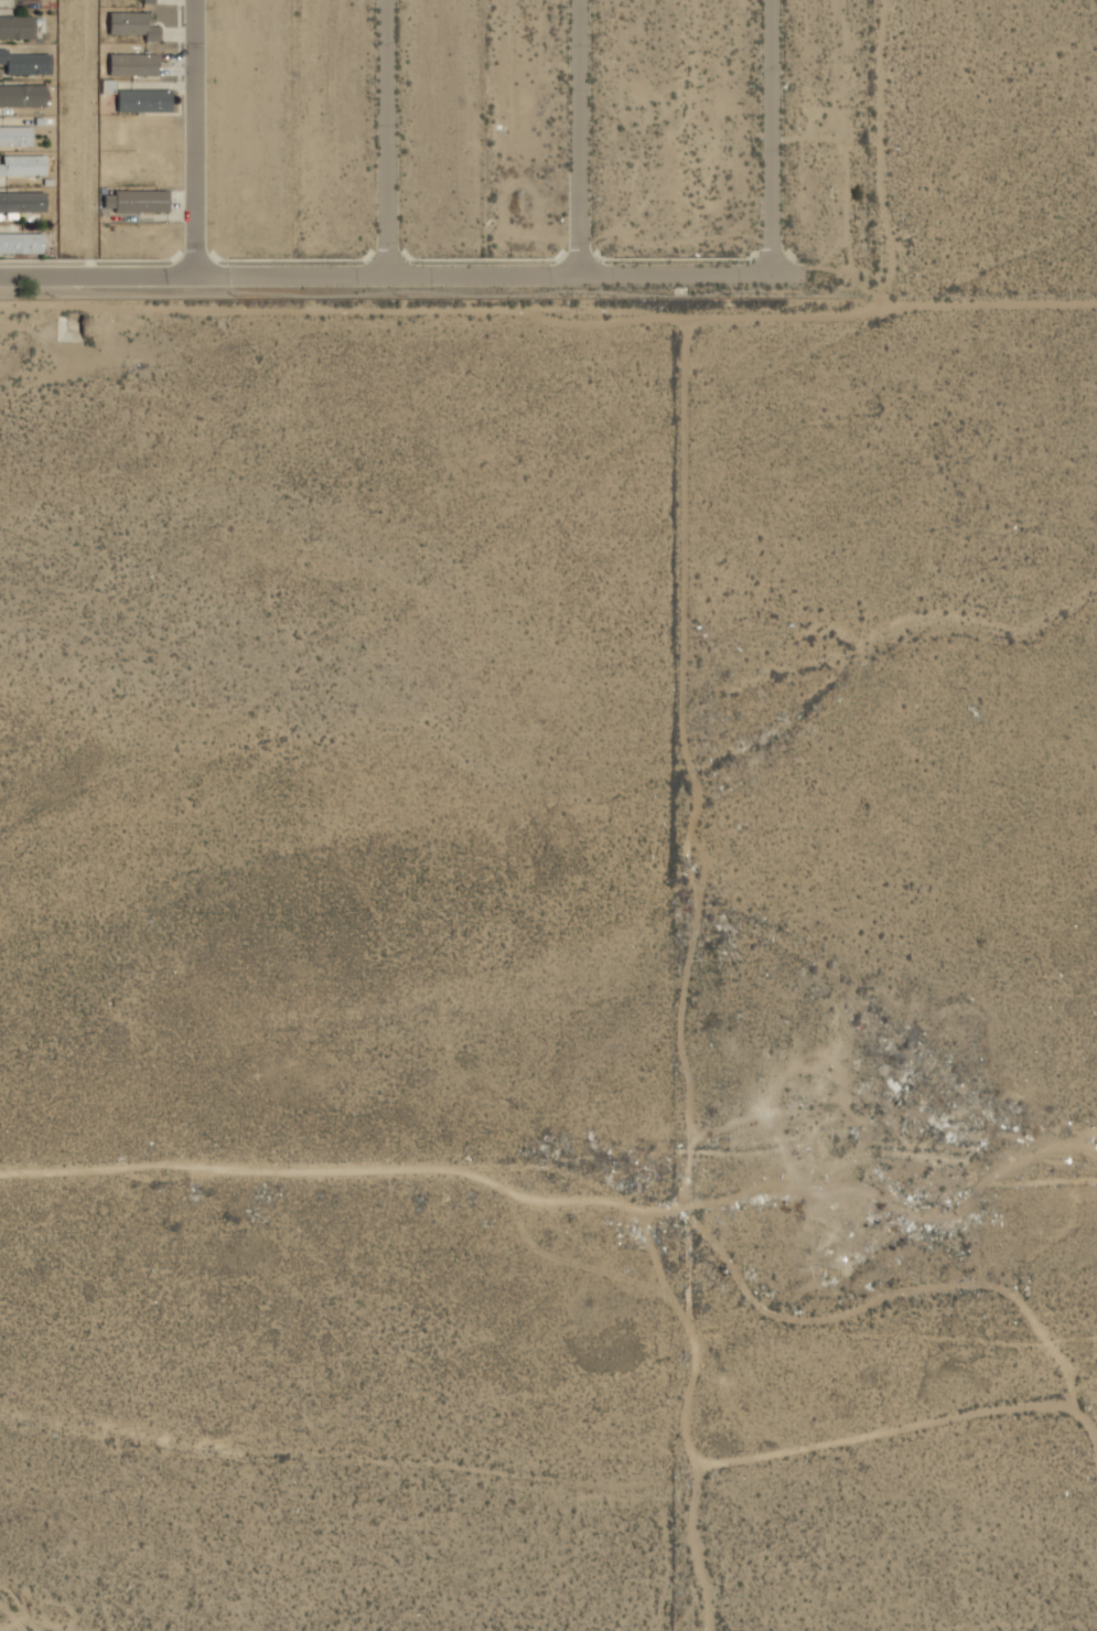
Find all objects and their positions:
building: (148, 1)
building: (133, 25)
building: (18, 29)
building: (26, 64)
building: (132, 66)
building: (106, 85)
building: (22, 97)
building: (146, 101)
road: (767, 136)
building: (15, 137)
road: (386, 137)
road: (576, 137)
road: (193, 138)
building: (23, 167)
building: (22, 202)
building: (135, 203)
building: (20, 244)
road: (384, 273)

